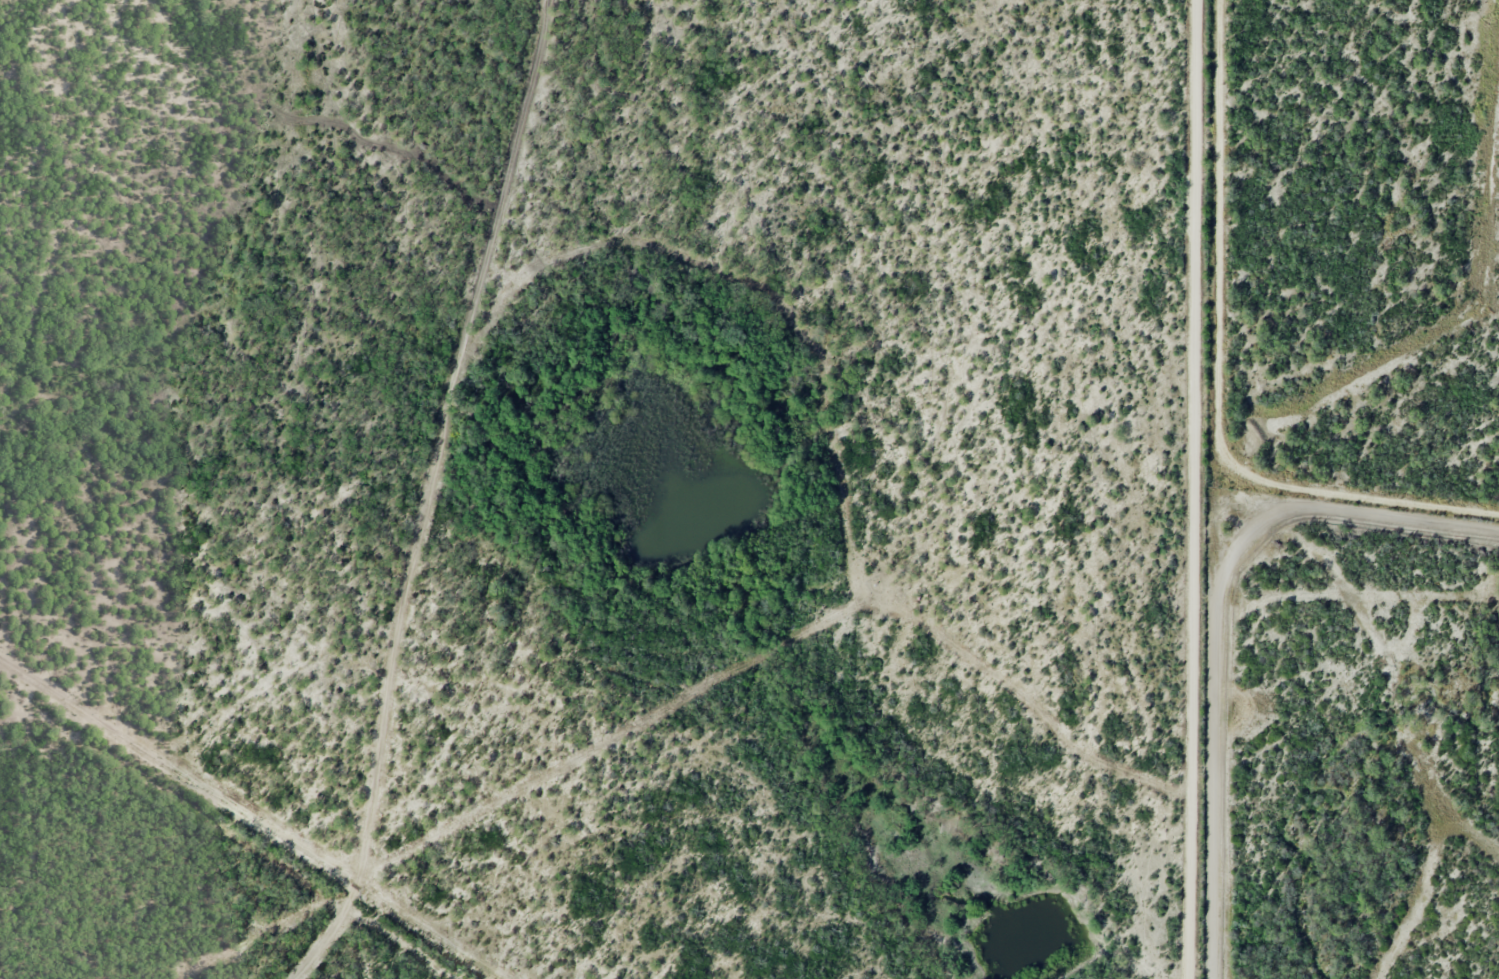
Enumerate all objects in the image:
road: (1190, 489)

